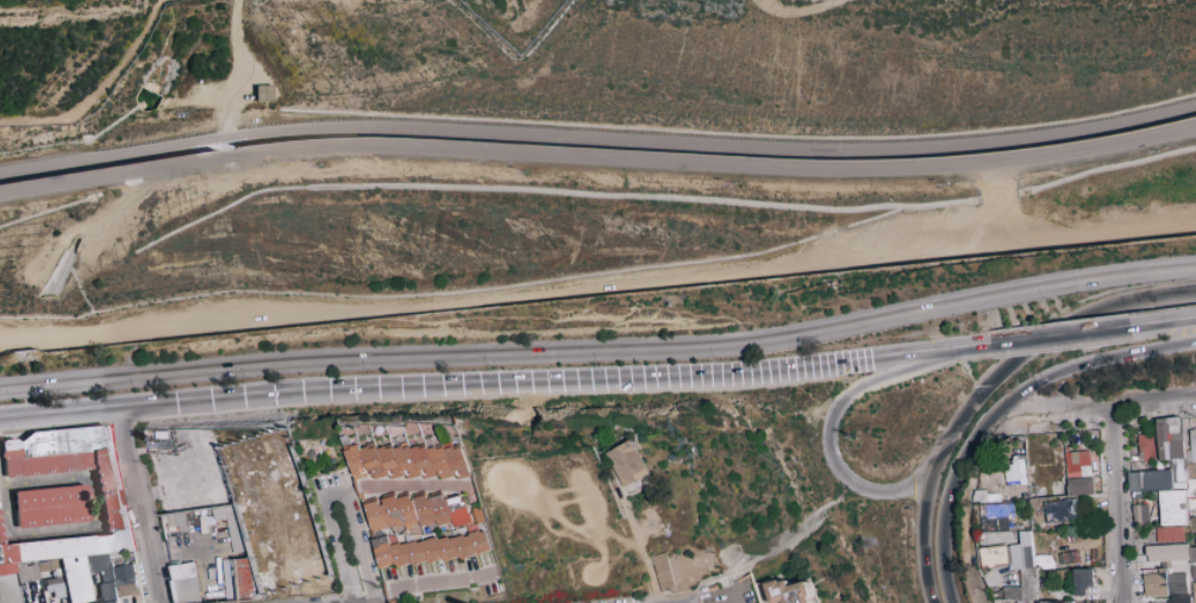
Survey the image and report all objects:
road: (237, 69)
road: (96, 87)
building: (263, 93)
road: (713, 145)
road: (230, 147)
road: (113, 156)
road: (597, 157)
road: (1001, 202)
road: (597, 288)
road: (1163, 322)
road: (1041, 333)
road: (1060, 338)
road: (600, 350)
road: (1088, 364)
road: (607, 381)
road: (1094, 402)
road: (111, 407)
building: (1171, 426)
building: (1194, 428)
building: (1192, 433)
building: (1145, 440)
building: (1164, 441)
building: (998, 442)
building: (433, 444)
building: (376, 446)
building: (443, 446)
building: (1176, 446)
building: (351, 447)
road: (825, 447)
building: (1065, 448)
building: (1192, 450)
building: (56, 451)
building: (26, 453)
building: (315, 453)
building: (1145, 453)
building: (1020, 458)
building: (375, 459)
building: (408, 459)
building: (425, 459)
building: (1135, 459)
building: (1188, 459)
building: (358, 460)
building: (392, 460)
building: (442, 460)
building: (459, 460)
building: (627, 463)
building: (1084, 464)
building: (1073, 465)
building: (1161, 465)
building: (1170, 465)
building: (1066, 466)
building: (1136, 466)
building: (1053, 467)
building: (368, 469)
building: (106, 470)
building: (364, 470)
building: (1178, 470)
building: (1015, 471)
building: (376, 472)
building: (393, 472)
building: (405, 472)
building: (409, 472)
building: (421, 472)
building: (425, 472)
building: (443, 472)
building: (455, 472)
building: (458, 472)
building: (1189, 472)
building: (1194, 472)
building: (372, 473)
building: (389, 473)
building: (438, 473)
building: (381, 475)
building: (414, 475)
building: (431, 475)
building: (363, 476)
building: (397, 476)
building: (446, 476)
building: (463, 476)
building: (1041, 477)
building: (1156, 479)
road: (334, 482)
road: (399, 483)
building: (1013, 483)
building: (1058, 483)
building: (1178, 485)
building: (1081, 486)
building: (239, 490)
building: (234, 491)
building: (1037, 491)
road: (176, 496)
building: (998, 496)
building: (1025, 496)
building: (981, 497)
building: (1191, 497)
road: (118, 498)
building: (989, 498)
road: (1113, 501)
road: (943, 502)
road: (139, 504)
building: (54, 505)
building: (476, 505)
building: (1172, 507)
building: (408, 509)
building: (425, 509)
building: (442, 509)
road: (8, 510)
building: (114, 510)
building: (458, 510)
building: (983, 510)
building: (1060, 510)
building: (393, 511)
building: (0, 513)
building: (1139, 515)
building: (377, 516)
building: (471, 517)
building: (997, 517)
building: (469, 519)
building: (428, 522)
building: (445, 522)
building: (483, 523)
building: (413, 525)
building: (1022, 526)
building: (456, 527)
road: (918, 527)
building: (1012, 528)
building: (376, 532)
building: (405, 532)
building: (1, 533)
building: (982, 535)
building: (394, 540)
building: (481, 541)
building: (464, 546)
building: (65, 547)
road: (362, 547)
building: (449, 547)
building: (433, 549)
road: (640, 551)
building: (417, 552)
building: (478, 553)
road: (338, 554)
building: (401, 554)
building: (386, 555)
building: (463, 557)
building: (446, 558)
building: (431, 561)
building: (98, 563)
building: (414, 563)
building: (50, 565)
building: (399, 565)
building: (7, 569)
building: (29, 571)
building: (662, 572)
building: (55, 573)
building: (107, 576)
building: (236, 578)
building: (77, 579)
building: (125, 580)
building: (1081, 580)
building: (184, 583)
building: (58, 584)
building: (10, 590)
building: (39, 590)
building: (108, 592)
building: (259, 596)
building: (67, 599)
building: (112, 602)

